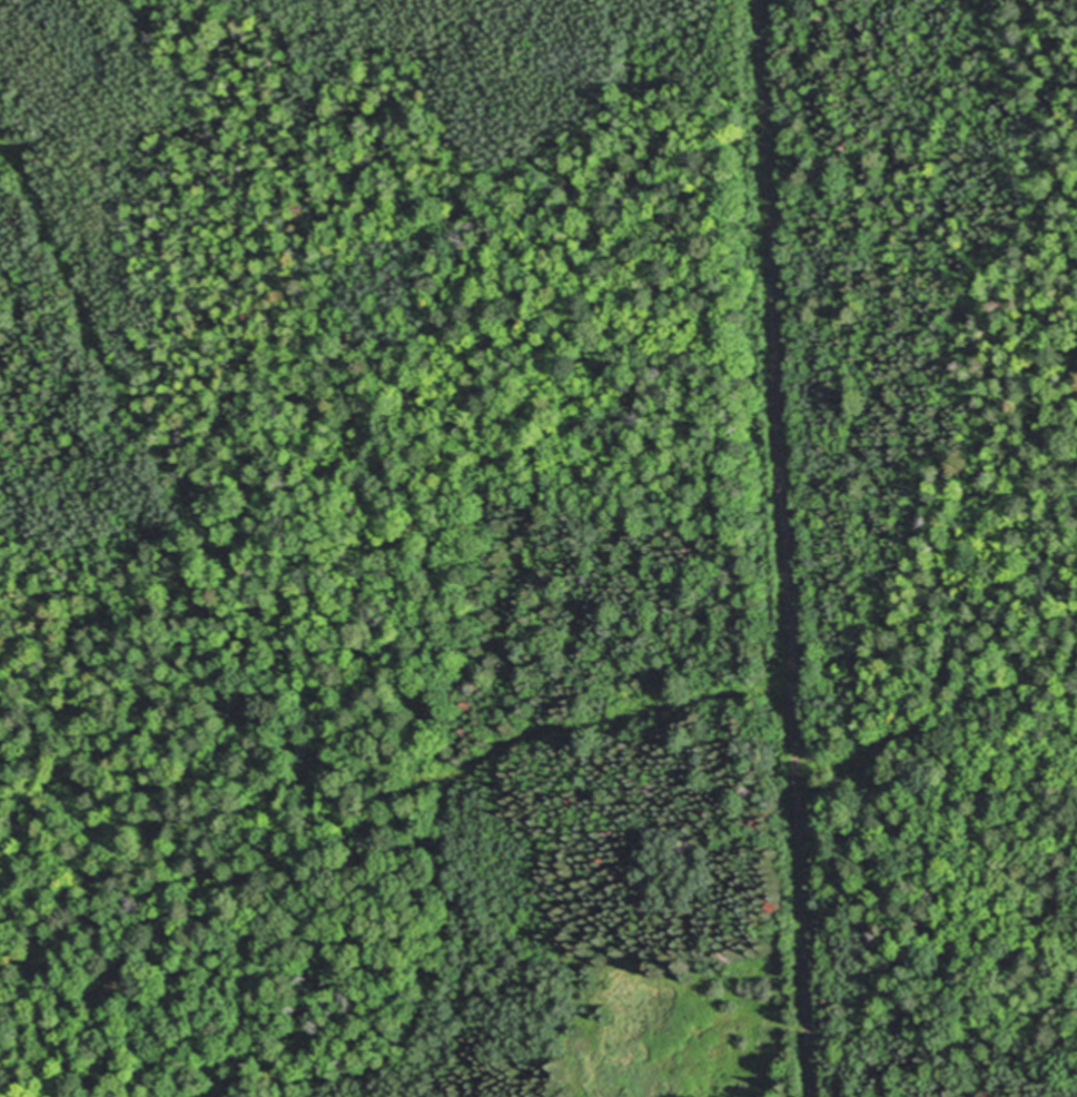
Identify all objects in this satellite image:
road: (784, 548)

